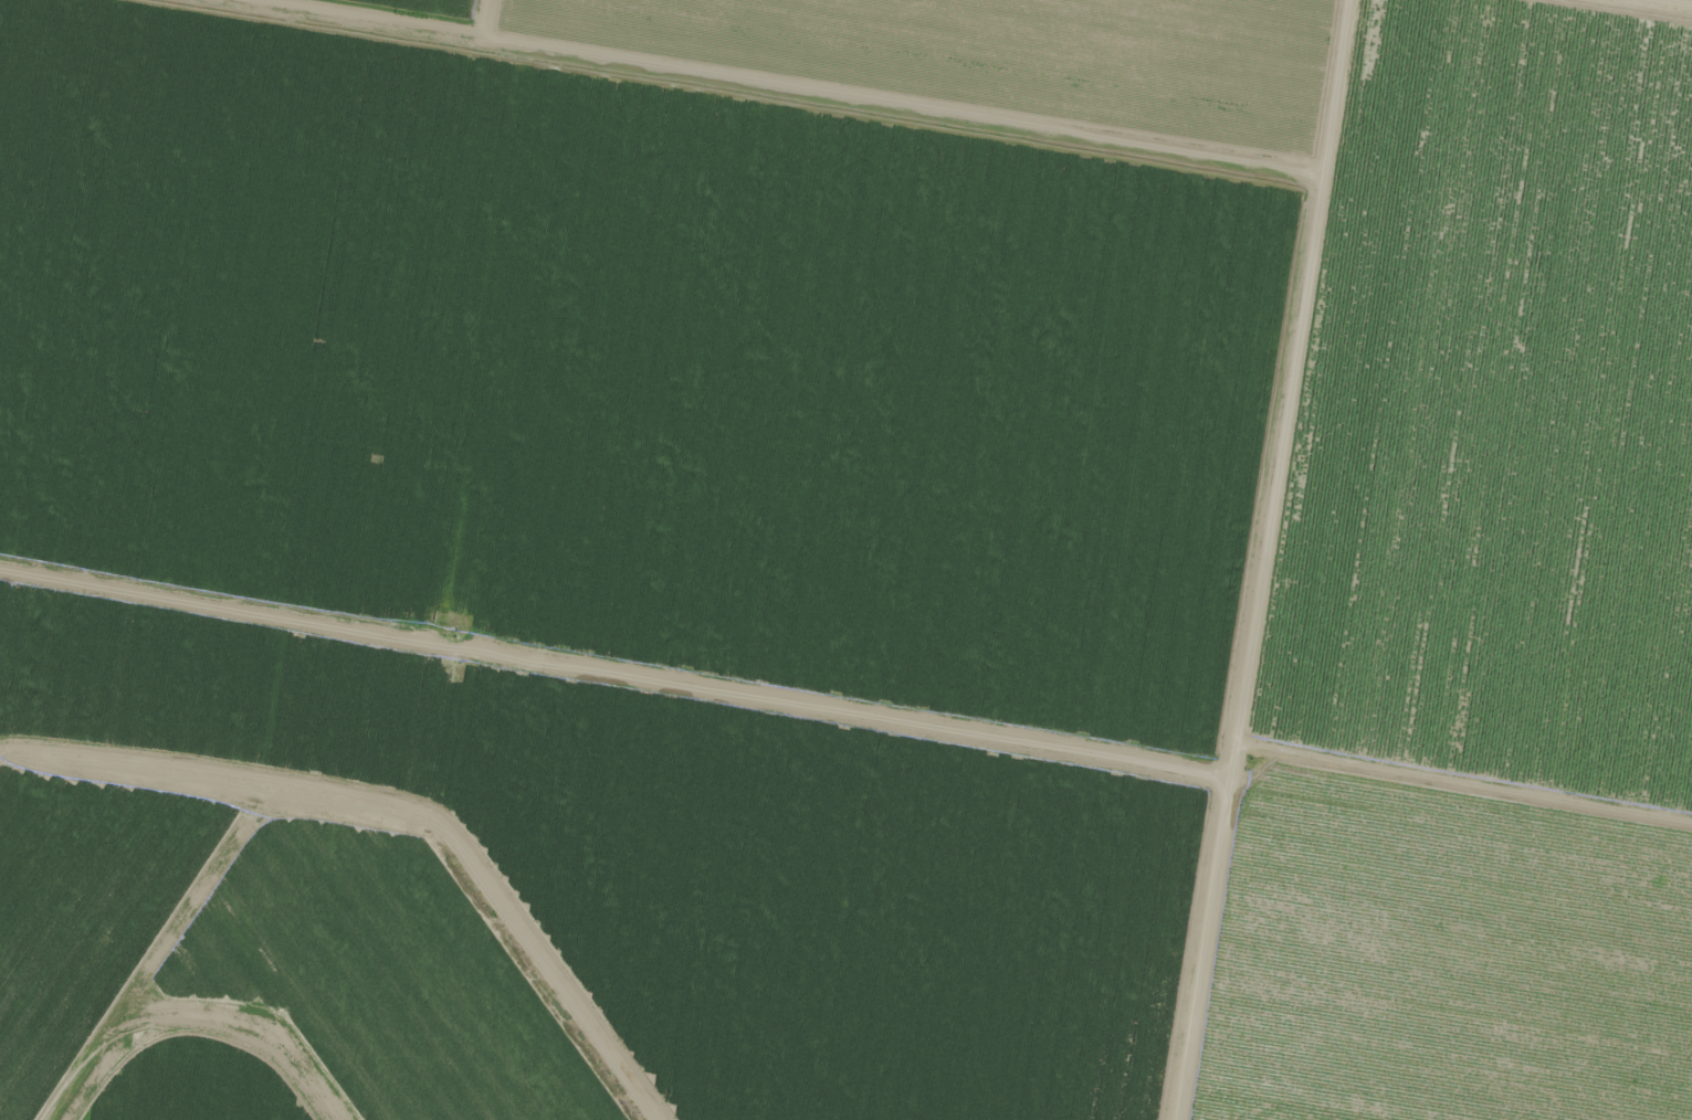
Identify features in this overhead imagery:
road: (1651, 6)
road: (653, 292)
road: (1285, 561)
road: (624, 645)

